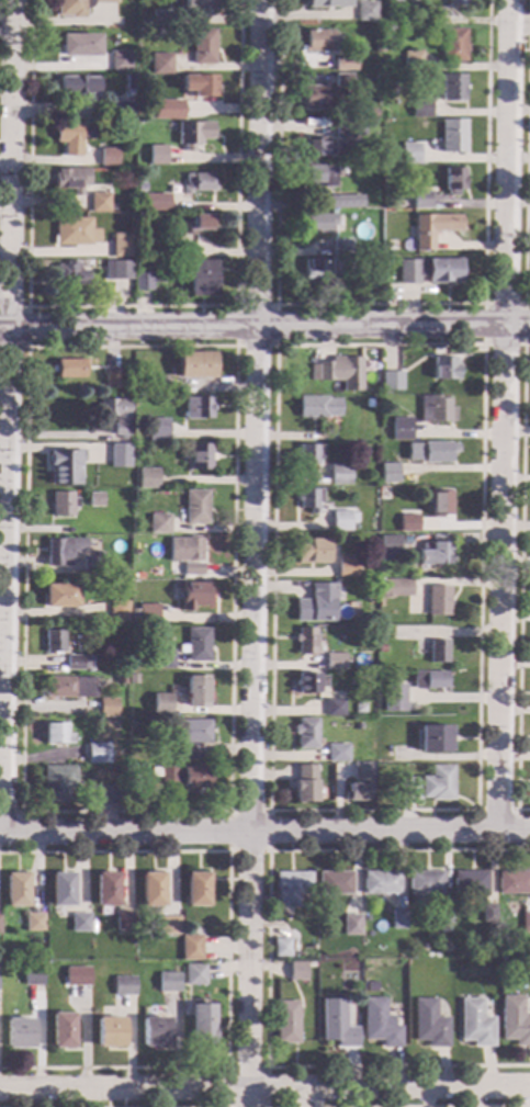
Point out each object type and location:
building: (396, 2)
building: (456, 2)
building: (328, 3)
building: (199, 4)
building: (77, 7)
building: (365, 11)
building: (435, 18)
building: (161, 19)
building: (318, 42)
building: (79, 45)
building: (454, 45)
building: (379, 46)
building: (204, 47)
building: (413, 60)
building: (122, 61)
building: (161, 65)
building: (345, 65)
building: (343, 80)
building: (129, 82)
building: (79, 86)
building: (201, 86)
building: (453, 88)
building: (314, 98)
building: (421, 109)
building: (125, 111)
building: (172, 111)
building: (372, 113)
building: (345, 129)
building: (194, 134)
building: (454, 136)
building: (70, 138)
building: (318, 147)
building: (410, 154)
road: (527, 154)
building: (158, 155)
building: (112, 158)
building: (319, 176)
building: (72, 180)
building: (454, 181)
building: (199, 183)
building: (421, 200)
building: (346, 202)
building: (101, 203)
building: (158, 203)
building: (201, 222)
building: (319, 224)
building: (433, 228)
building: (75, 231)
building: (122, 247)
building: (342, 248)
building: (392, 248)
building: (180, 251)
building: (371, 266)
building: (339, 267)
building: (314, 269)
building: (119, 270)
building: (430, 271)
building: (70, 273)
building: (201, 279)
building: (143, 280)
road: (525, 304)
road: (379, 305)
road: (131, 307)
road: (26, 327)
road: (264, 327)
road: (274, 346)
building: (195, 365)
building: (69, 369)
building: (444, 369)
building: (339, 373)
building: (112, 381)
building: (391, 382)
building: (156, 386)
building: (369, 404)
building: (198, 407)
building: (318, 407)
building: (436, 409)
building: (115, 414)
road: (8, 416)
road: (505, 416)
building: (401, 429)
building: (157, 430)
building: (140, 434)
building: (430, 452)
building: (308, 454)
building: (119, 456)
building: (199, 458)
building: (65, 467)
building: (390, 473)
building: (339, 475)
building: (147, 478)
building: (94, 499)
building: (308, 499)
building: (63, 504)
building: (439, 504)
building: (195, 507)
building: (340, 521)
building: (158, 523)
building: (407, 523)
building: (388, 547)
building: (184, 550)
building: (61, 551)
building: (311, 551)
road: (253, 553)
building: (432, 554)
building: (91, 567)
building: (346, 567)
building: (192, 569)
building: (136, 573)
building: (122, 574)
road: (519, 580)
building: (402, 587)
building: (60, 596)
building: (194, 596)
building: (438, 601)
building: (316, 603)
building: (117, 613)
building: (147, 614)
building: (368, 618)
building: (54, 641)
building: (306, 642)
building: (370, 642)
building: (195, 645)
building: (438, 652)
building: (162, 659)
building: (334, 662)
building: (74, 663)
building: (133, 679)
building: (120, 680)
building: (429, 680)
building: (308, 684)
building: (69, 688)
building: (195, 691)
building: (393, 697)
building: (161, 703)
building: (359, 708)
building: (335, 709)
building: (305, 734)
building: (57, 735)
building: (191, 737)
building: (435, 739)
building: (337, 753)
building: (99, 754)
building: (317, 769)
building: (362, 771)
building: (185, 777)
building: (58, 783)
building: (439, 783)
building: (304, 784)
building: (409, 790)
building: (354, 793)
road: (228, 811)
road: (269, 811)
road: (19, 822)
road: (264, 832)
road: (268, 850)
building: (381, 882)
building: (470, 882)
building: (514, 882)
building: (335, 883)
building: (424, 886)
building: (291, 888)
building: (60, 889)
building: (151, 889)
building: (15, 890)
building: (105, 890)
building: (196, 890)
building: (443, 914)
building: (488, 914)
building: (397, 919)
building: (526, 920)
building: (123, 922)
building: (32, 923)
building: (79, 923)
building: (351, 925)
building: (167, 926)
building: (443, 928)
building: (444, 947)
building: (191, 948)
building: (282, 948)
building: (32, 956)
road: (226, 957)
road: (266, 960)
building: (297, 971)
building: (76, 975)
building: (194, 975)
building: (32, 976)
building: (168, 983)
building: (123, 986)
building: (371, 986)
building: (514, 1020)
building: (286, 1023)
building: (476, 1023)
building: (337, 1024)
building: (379, 1024)
building: (429, 1024)
building: (202, 1026)
building: (60, 1031)
building: (109, 1032)
building: (154, 1032)
building: (18, 1033)
road: (245, 1068)
road: (264, 1089)
road: (512, 1106)

